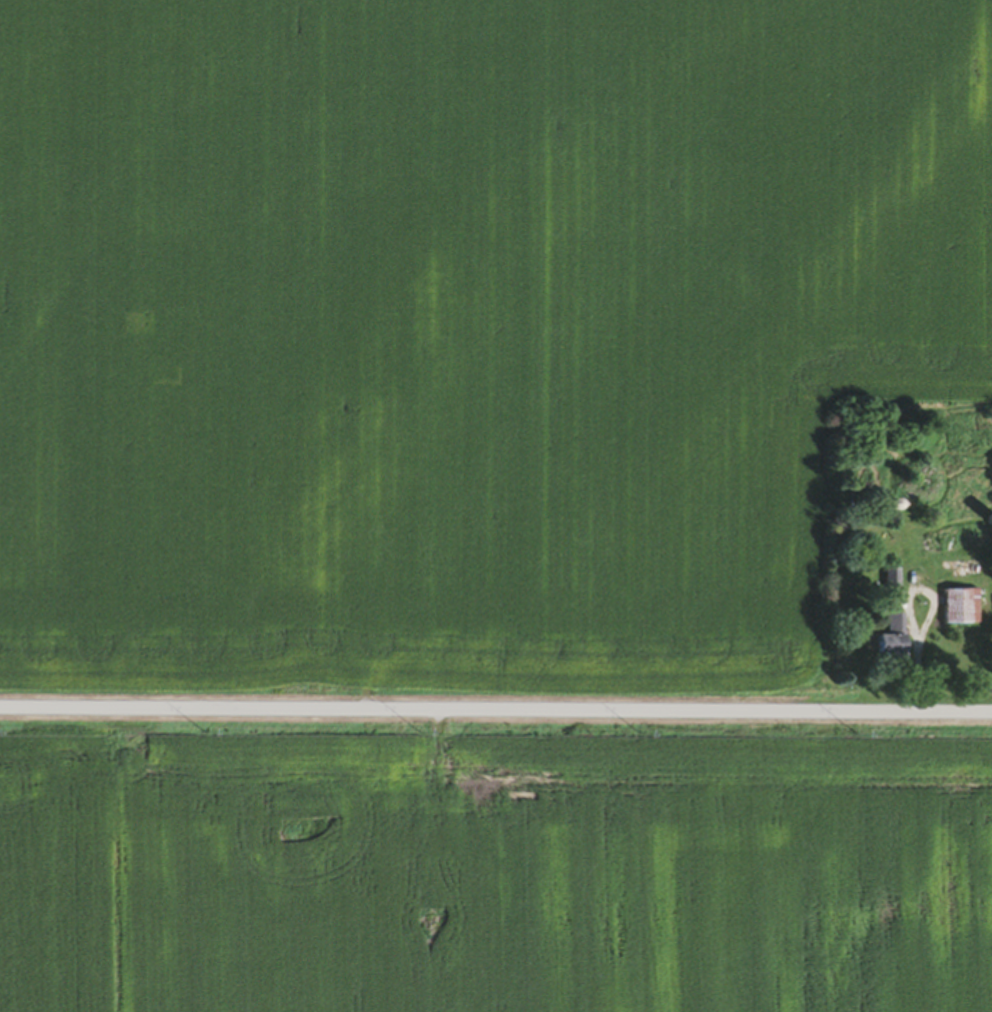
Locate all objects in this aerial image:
building: (890, 582)
building: (960, 609)
building: (889, 642)
road: (496, 710)

